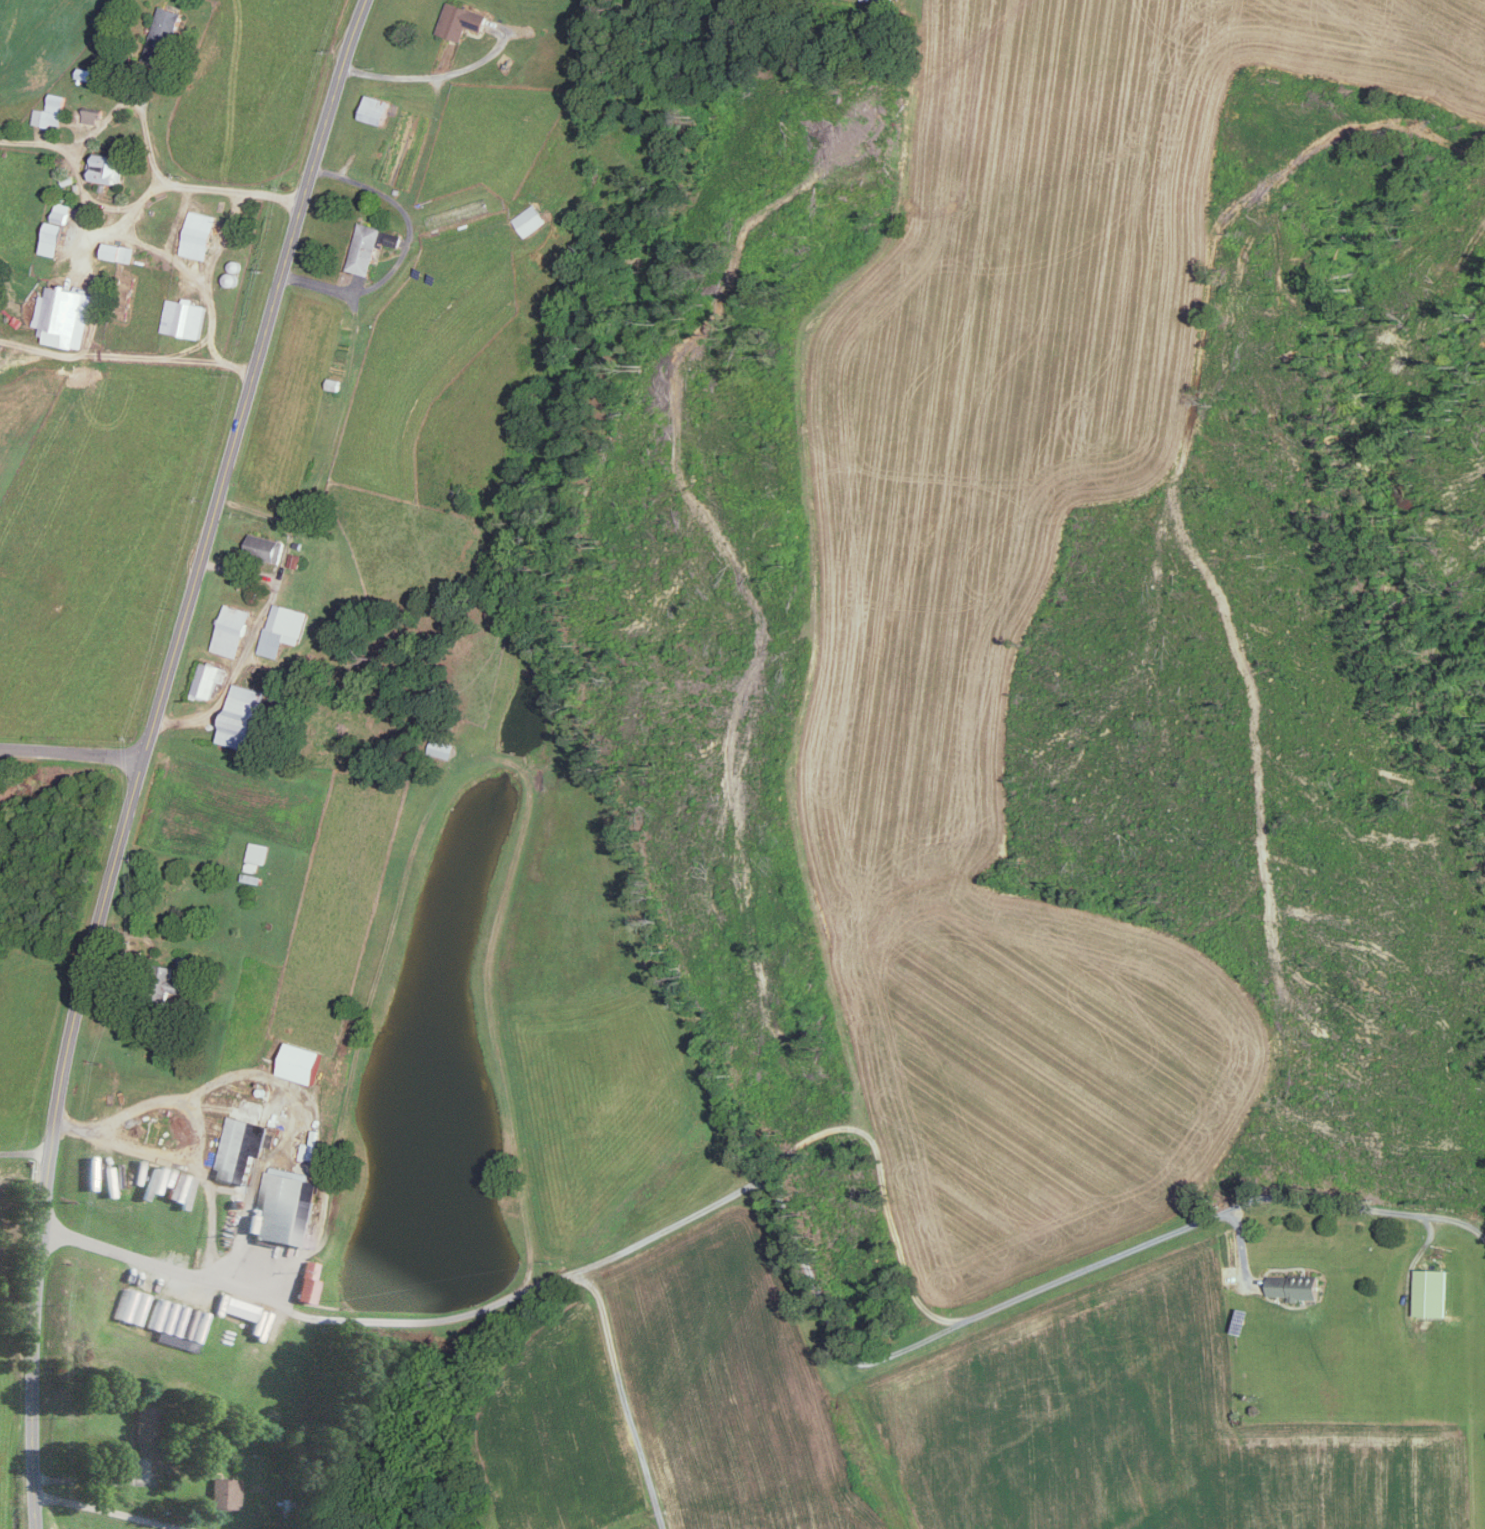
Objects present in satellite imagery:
building: (462, 19)
building: (164, 34)
road: (428, 75)
building: (377, 108)
building: (51, 110)
building: (92, 115)
road: (98, 126)
road: (39, 140)
building: (106, 166)
road: (174, 185)
building: (62, 211)
road: (175, 219)
building: (530, 219)
building: (198, 233)
building: (54, 237)
road: (222, 238)
building: (365, 247)
road: (406, 248)
building: (120, 251)
road: (204, 291)
building: (63, 314)
building: (184, 317)
building: (0, 347)
road: (108, 352)
building: (265, 546)
road: (238, 571)
road: (262, 614)
building: (283, 628)
building: (231, 629)
building: (209, 679)
building: (243, 716)
road: (72, 752)
road: (144, 754)
building: (257, 855)
building: (303, 1060)
road: (273, 1074)
road: (197, 1131)
building: (243, 1146)
road: (24, 1152)
road: (196, 1168)
building: (287, 1205)
road: (1086, 1270)
building: (1231, 1273)
building: (306, 1281)
building: (1296, 1285)
building: (1432, 1290)
building: (133, 1304)
building: (239, 1306)
road: (828, 1319)
building: (178, 1322)
road: (439, 1322)
road: (624, 1398)
building: (145, 1429)
road: (86, 1478)
building: (224, 1491)
road: (111, 1510)

